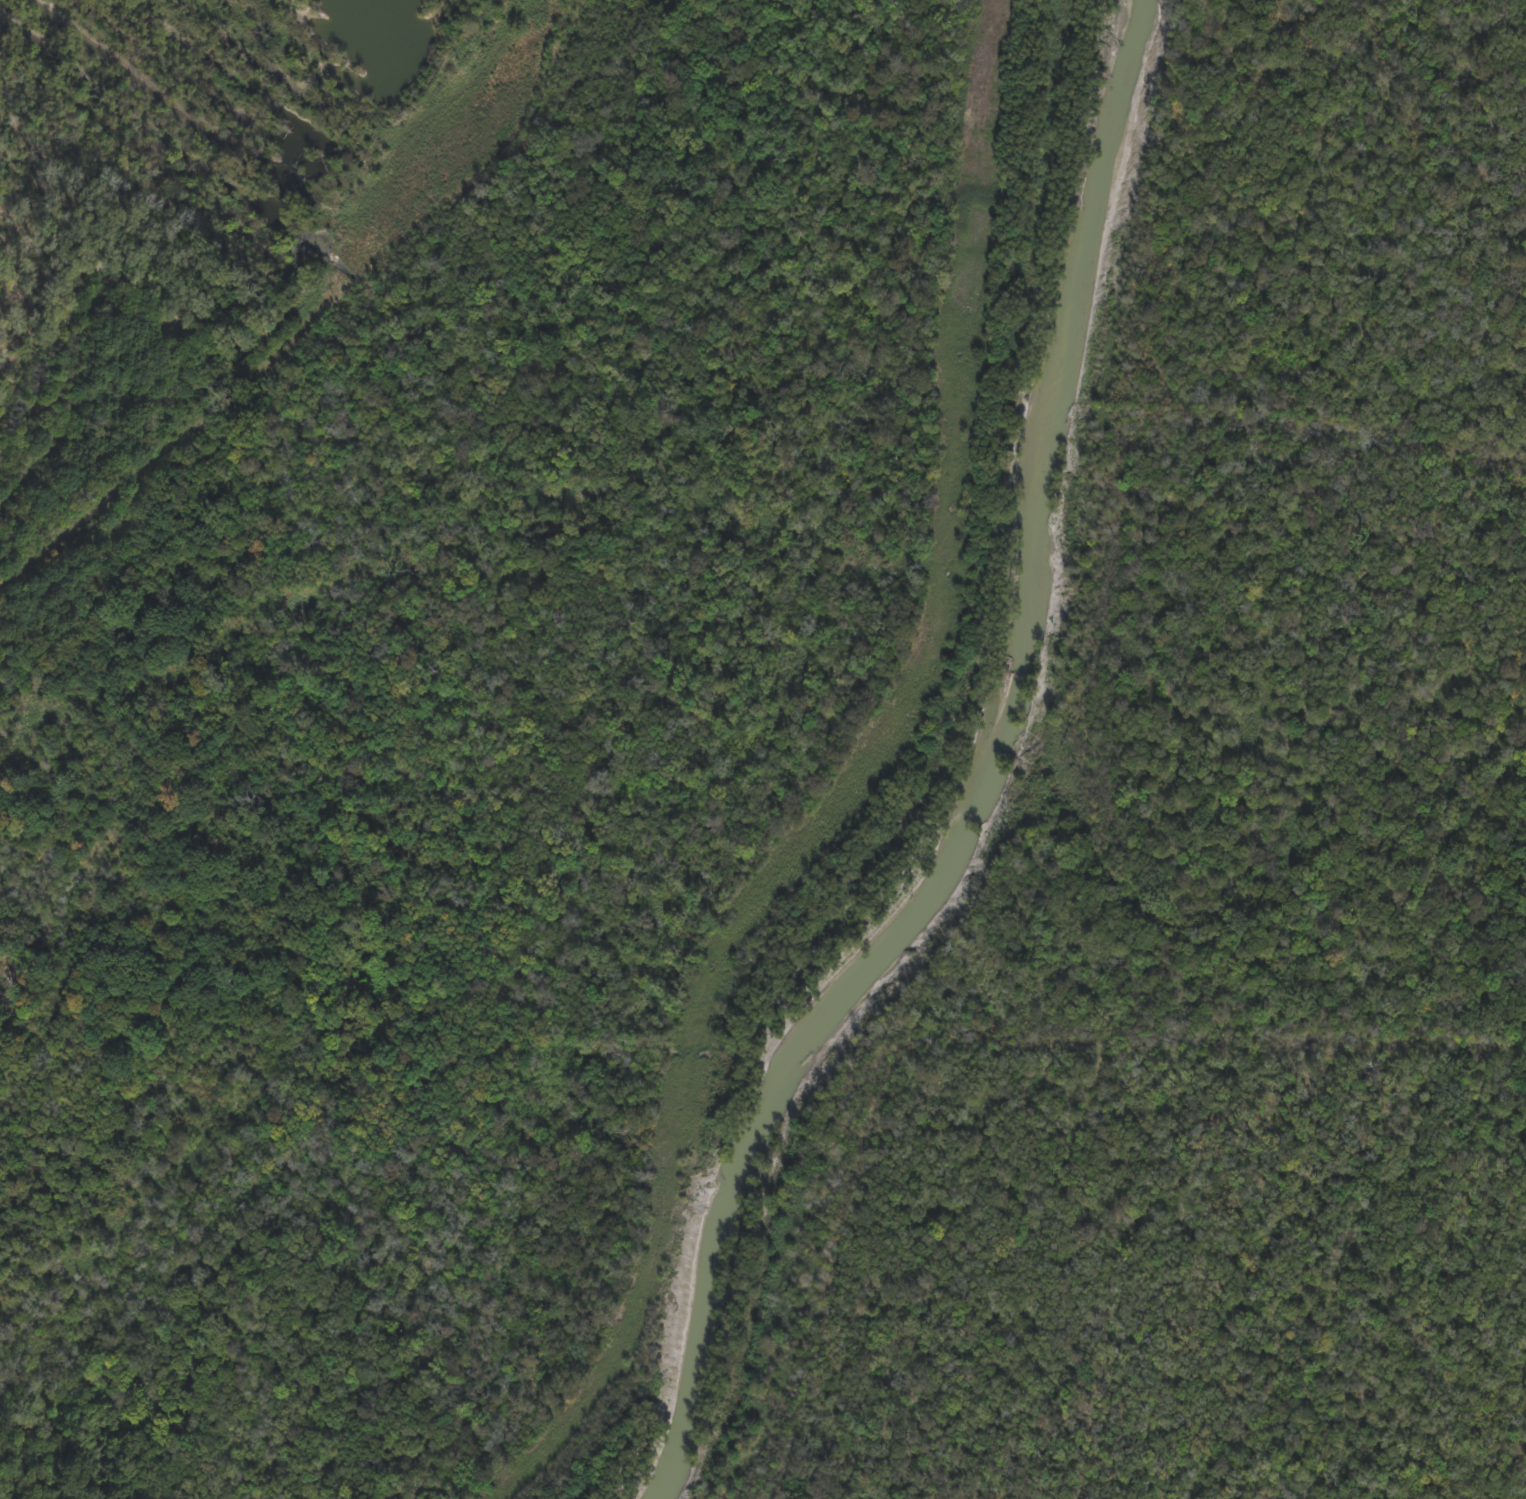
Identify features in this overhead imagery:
river: (961, 786)

